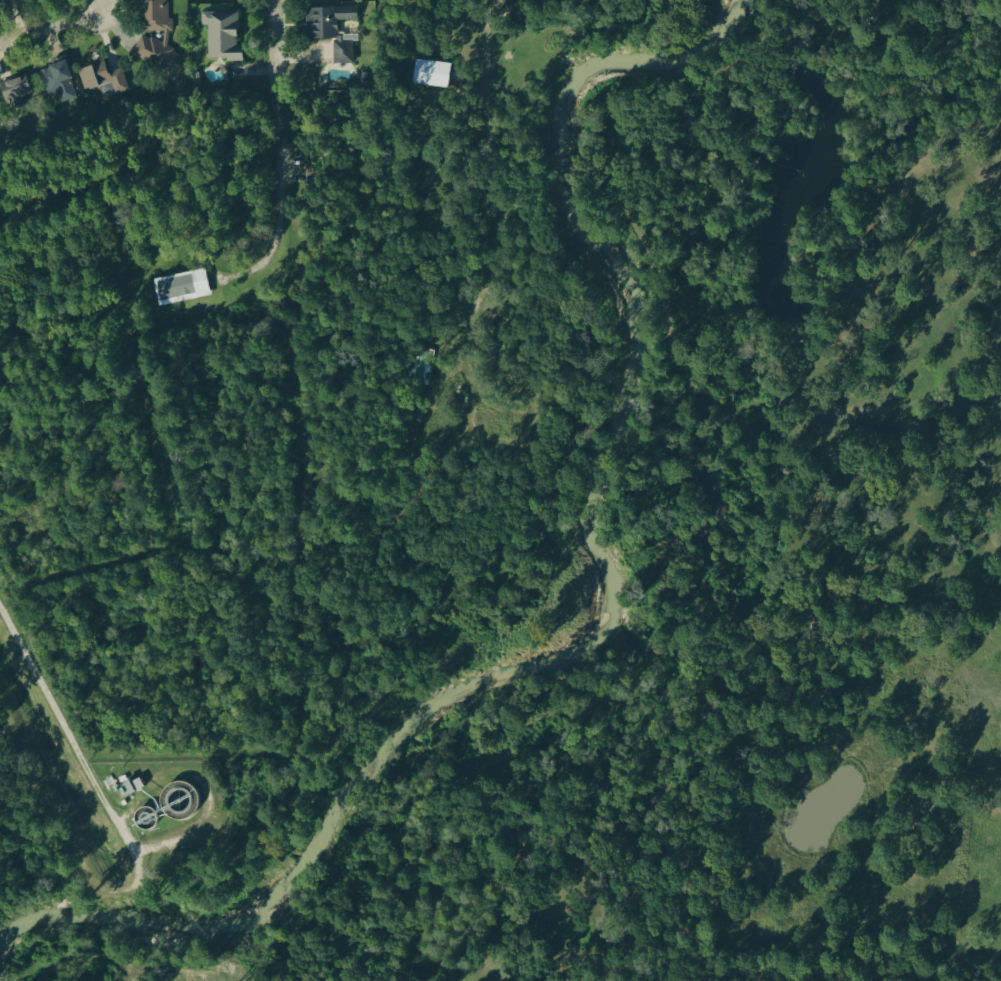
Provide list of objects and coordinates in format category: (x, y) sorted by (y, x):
building: (2, 5)
building: (327, 22)
road: (52, 28)
building: (157, 37)
building: (224, 37)
building: (347, 39)
road: (280, 42)
building: (344, 54)
building: (431, 73)
building: (102, 79)
building: (16, 92)
building: (1, 122)
road: (280, 200)
building: (181, 288)
building: (420, 370)
crop: (922, 411)
river: (605, 610)
building: (136, 786)
wastewater plant: (167, 808)
park: (31, 846)
road: (132, 855)

